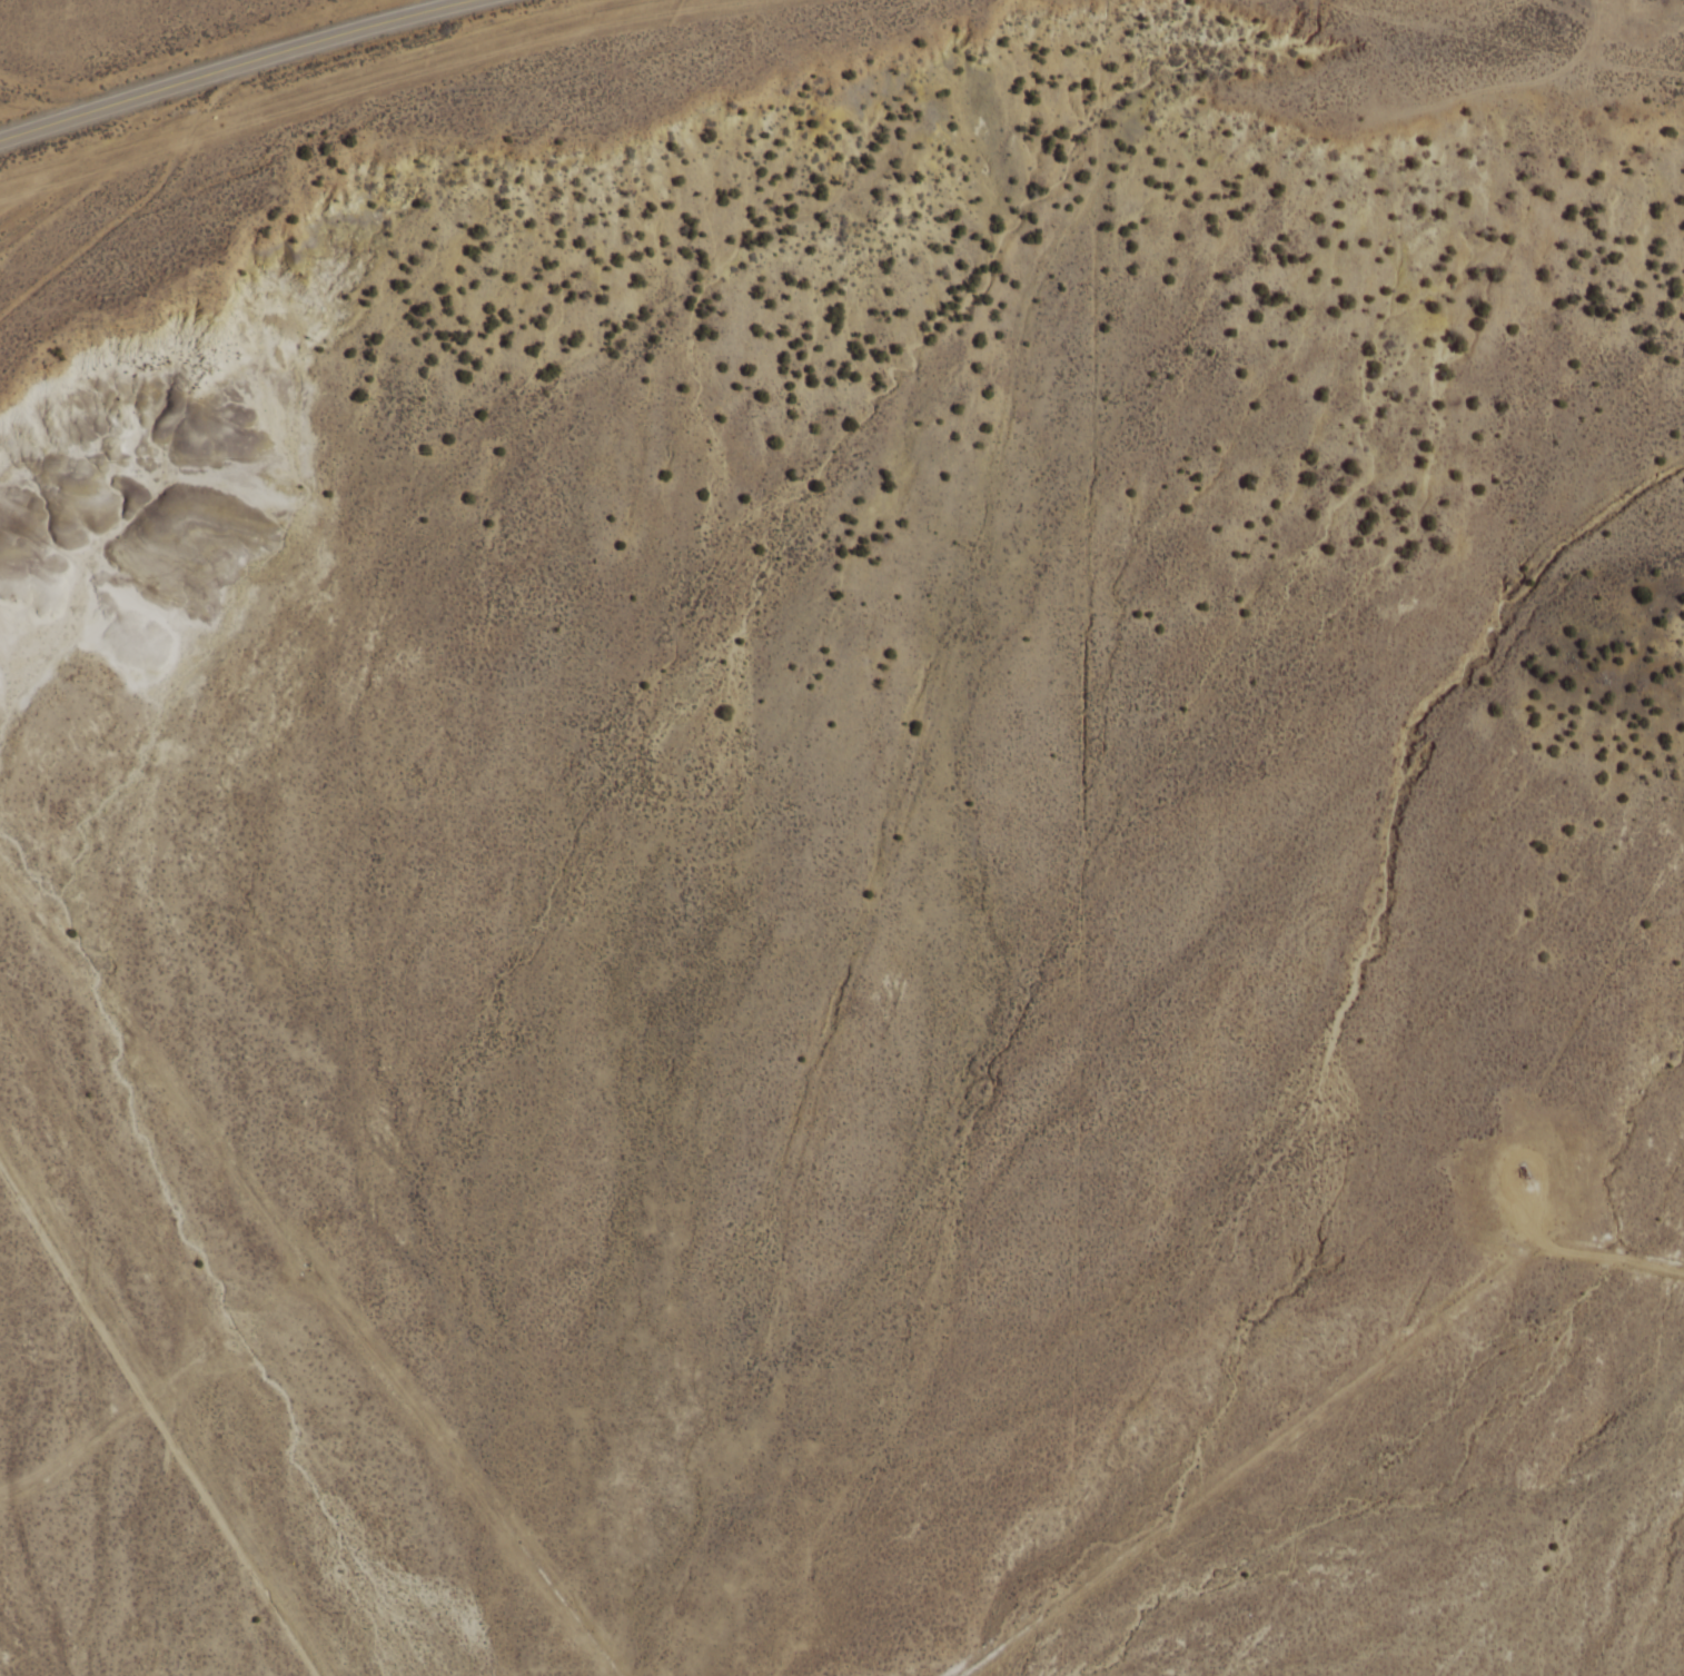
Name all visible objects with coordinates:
road: (237, 65)
road: (158, 1421)

